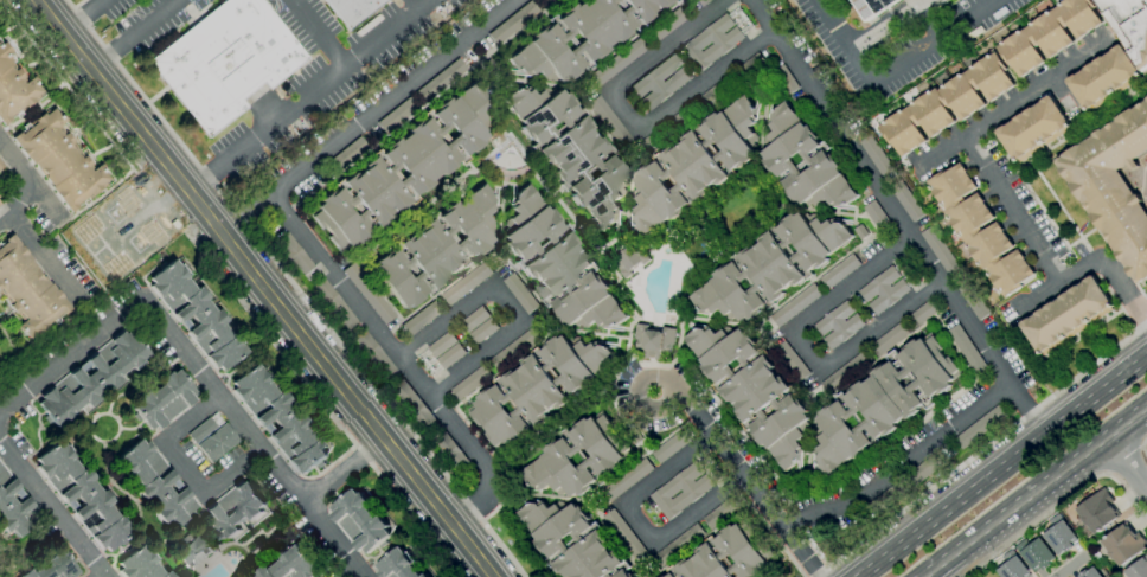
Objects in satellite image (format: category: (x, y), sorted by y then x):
building: (547, 1)
building: (703, 2)
building: (872, 7)
building: (352, 9)
building: (733, 13)
road: (83, 17)
building: (741, 21)
road: (310, 23)
building: (513, 23)
building: (665, 25)
building: (1128, 25)
building: (745, 30)
road: (133, 33)
building: (1049, 34)
building: (543, 43)
building: (724, 43)
road: (338, 56)
building: (225, 60)
building: (617, 62)
building: (750, 66)
road: (890, 69)
building: (1103, 78)
building: (441, 81)
building: (784, 81)
building: (661, 82)
road: (66, 85)
building: (14, 88)
building: (713, 94)
road: (308, 96)
building: (1146, 100)
road: (1015, 102)
building: (946, 104)
road: (34, 110)
building: (397, 115)
road: (369, 117)
road: (630, 117)
building: (609, 122)
building: (1032, 128)
building: (664, 133)
road: (845, 140)
building: (571, 152)
building: (347, 155)
building: (876, 156)
building: (60, 160)
building: (803, 162)
building: (0, 165)
building: (693, 166)
building: (403, 169)
road: (32, 182)
building: (1114, 186)
road: (547, 194)
road: (100, 198)
building: (1, 200)
building: (906, 201)
road: (49, 203)
road: (720, 210)
road: (1013, 211)
building: (874, 216)
building: (979, 230)
building: (860, 232)
building: (130, 239)
building: (437, 248)
building: (940, 252)
road: (41, 254)
building: (294, 254)
building: (628, 258)
building: (558, 265)
building: (770, 268)
road: (700, 270)
building: (839, 271)
road: (1057, 282)
building: (466, 283)
road: (263, 288)
road: (295, 288)
road: (1124, 288)
building: (27, 290)
building: (883, 290)
building: (367, 293)
building: (519, 293)
building: (969, 299)
road: (506, 303)
building: (334, 304)
building: (795, 306)
building: (923, 313)
building: (1065, 314)
building: (196, 315)
building: (421, 318)
building: (474, 319)
building: (838, 325)
building: (482, 331)
road: (976, 332)
building: (890, 338)
building: (653, 341)
building: (442, 345)
building: (515, 348)
building: (965, 348)
road: (810, 351)
building: (373, 354)
building: (450, 357)
road: (402, 360)
building: (792, 360)
road: (200, 370)
building: (846, 372)
building: (91, 379)
building: (469, 383)
building: (538, 387)
building: (752, 391)
building: (164, 400)
building: (882, 402)
building: (415, 405)
road: (1030, 406)
road: (325, 409)
building: (277, 419)
building: (970, 432)
building: (212, 438)
building: (671, 445)
road: (1142, 448)
road: (979, 449)
building: (450, 451)
building: (557, 457)
road: (1124, 461)
road: (901, 462)
road: (1124, 462)
road: (1002, 466)
road: (347, 468)
road: (185, 469)
building: (925, 469)
building: (627, 480)
building: (156, 483)
road: (746, 485)
road: (1032, 489)
building: (693, 491)
building: (83, 495)
building: (886, 498)
road: (1057, 504)
road: (57, 505)
building: (14, 507)
building: (233, 511)
building: (723, 512)
building: (1097, 512)
building: (359, 521)
road: (637, 526)
building: (623, 534)
building: (1058, 536)
building: (590, 539)
building: (1123, 544)
building: (678, 545)
building: (188, 547)
building: (1033, 553)
building: (728, 556)
building: (141, 564)
building: (291, 565)
building: (399, 565)
building: (52, 566)
road: (1071, 566)
building: (1012, 569)
building: (1138, 569)
road: (350, 571)
building: (1088, 572)
road: (105, 573)
building: (632, 576)
building: (664, 576)

